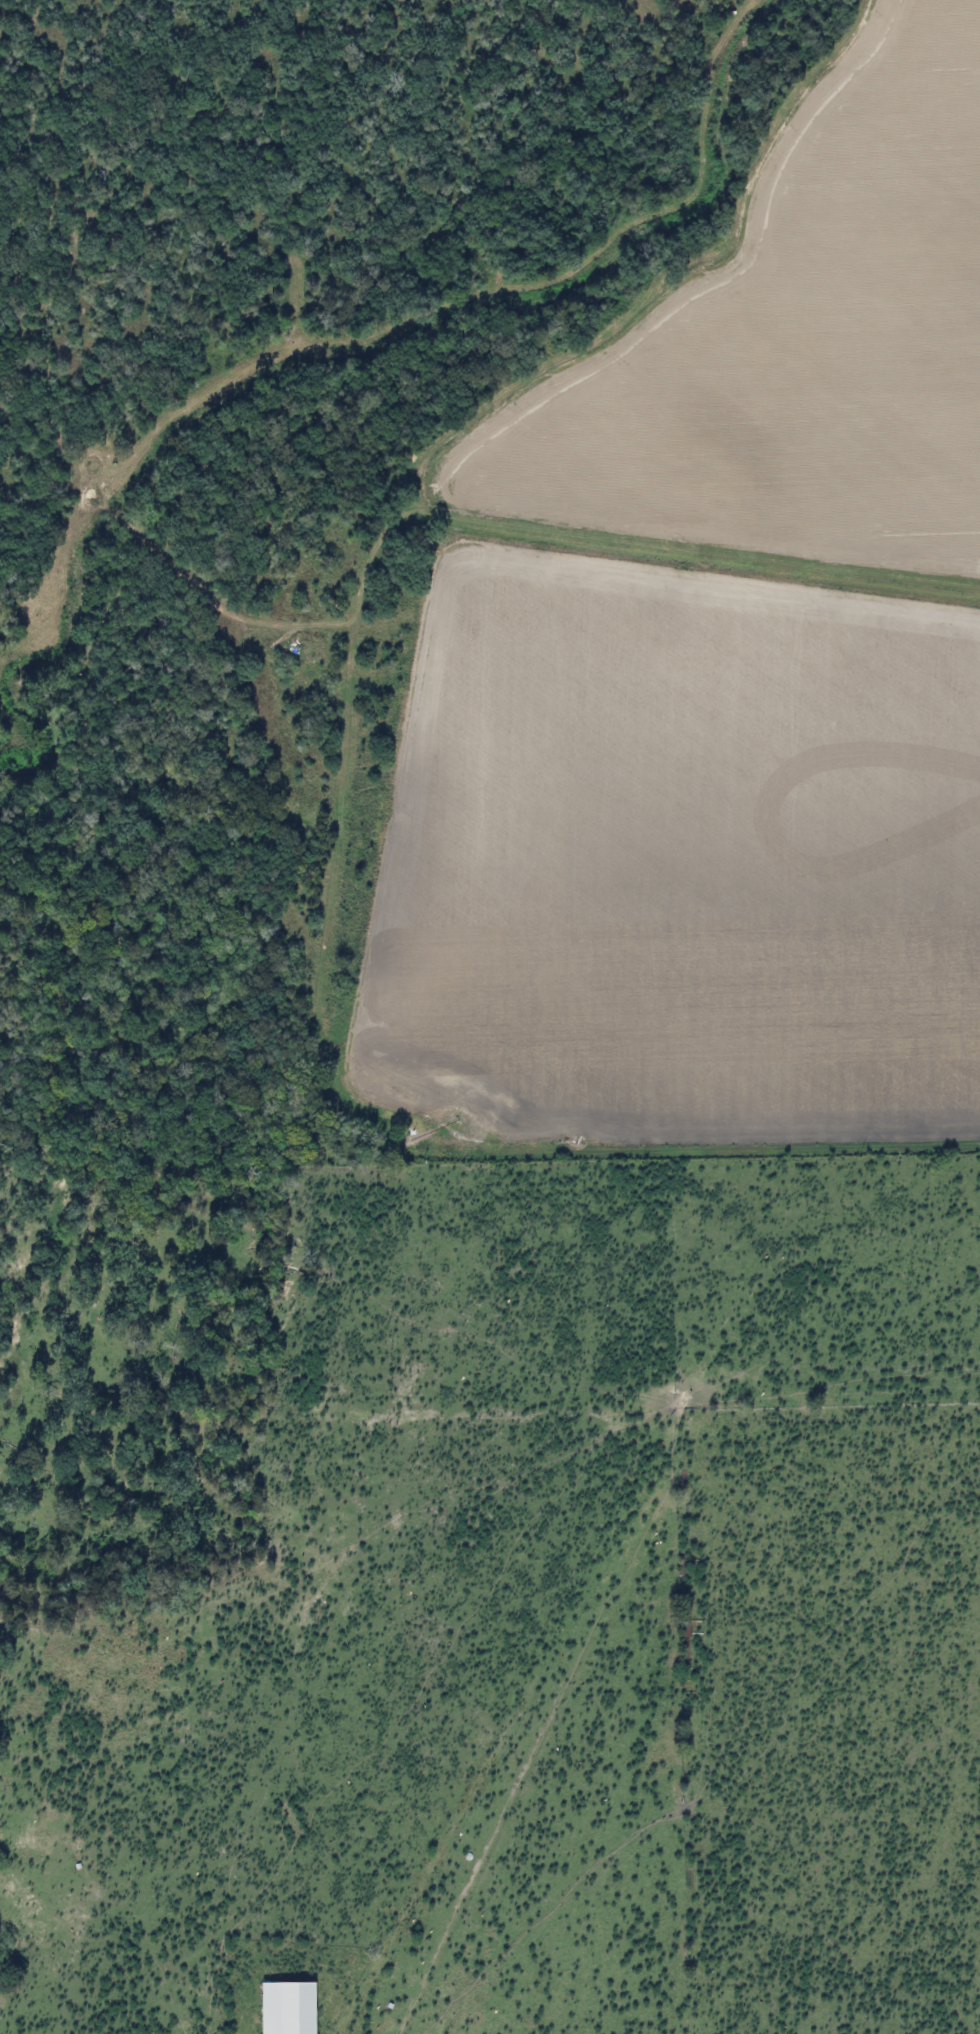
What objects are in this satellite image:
building: (685, 1628)

